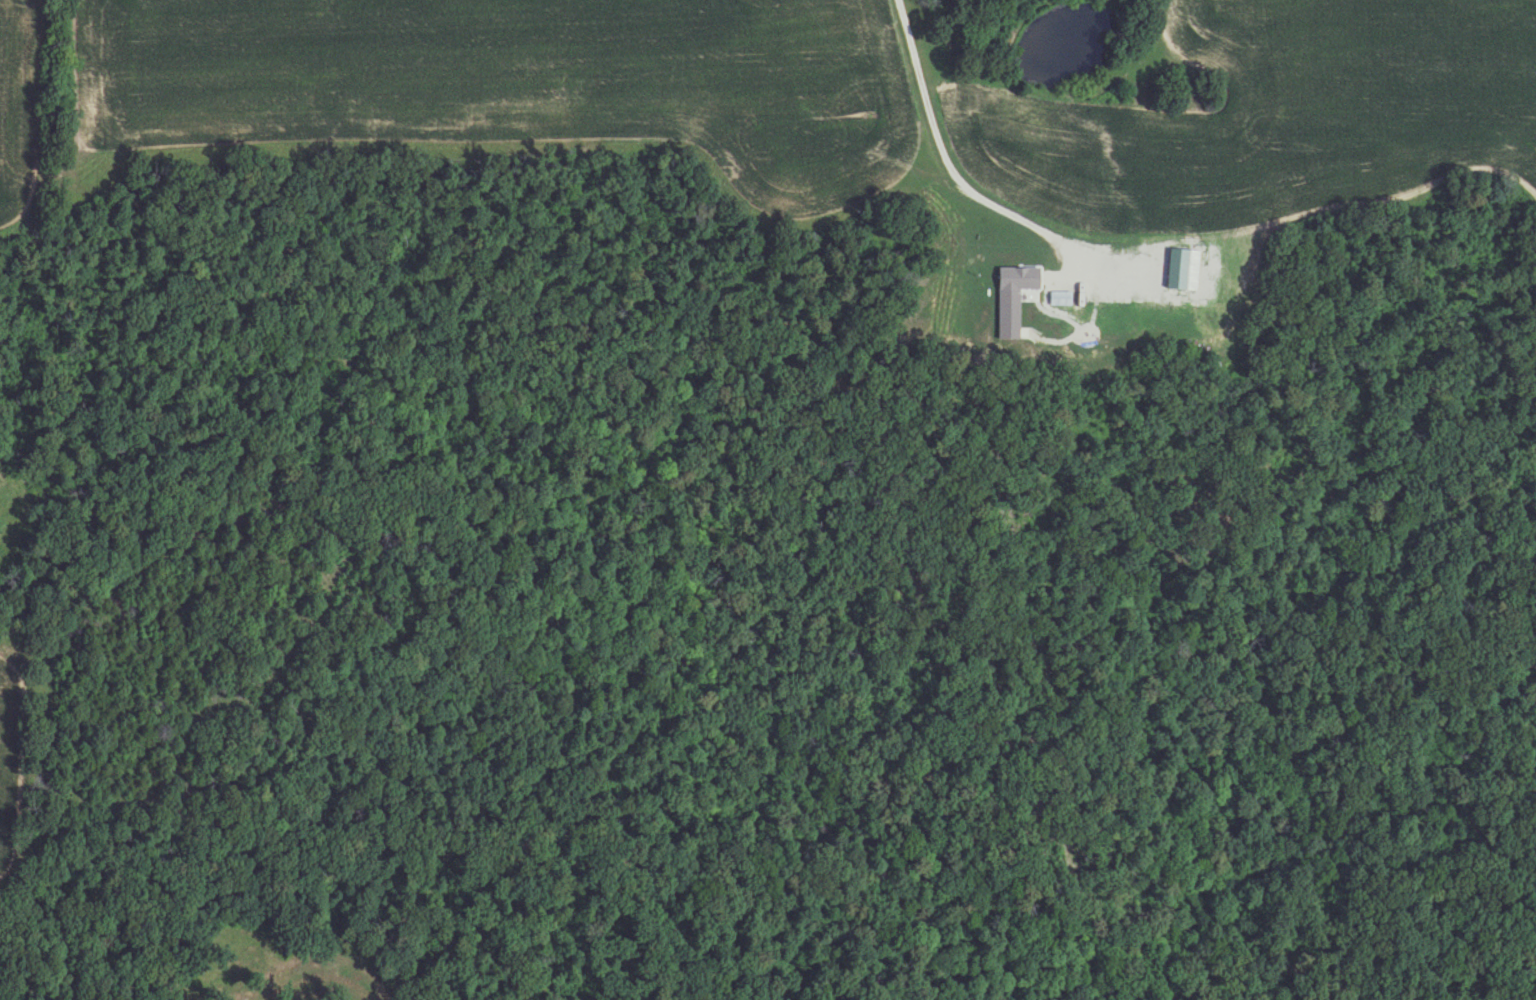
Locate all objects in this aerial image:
road: (944, 159)
building: (1172, 271)
building: (1022, 280)

